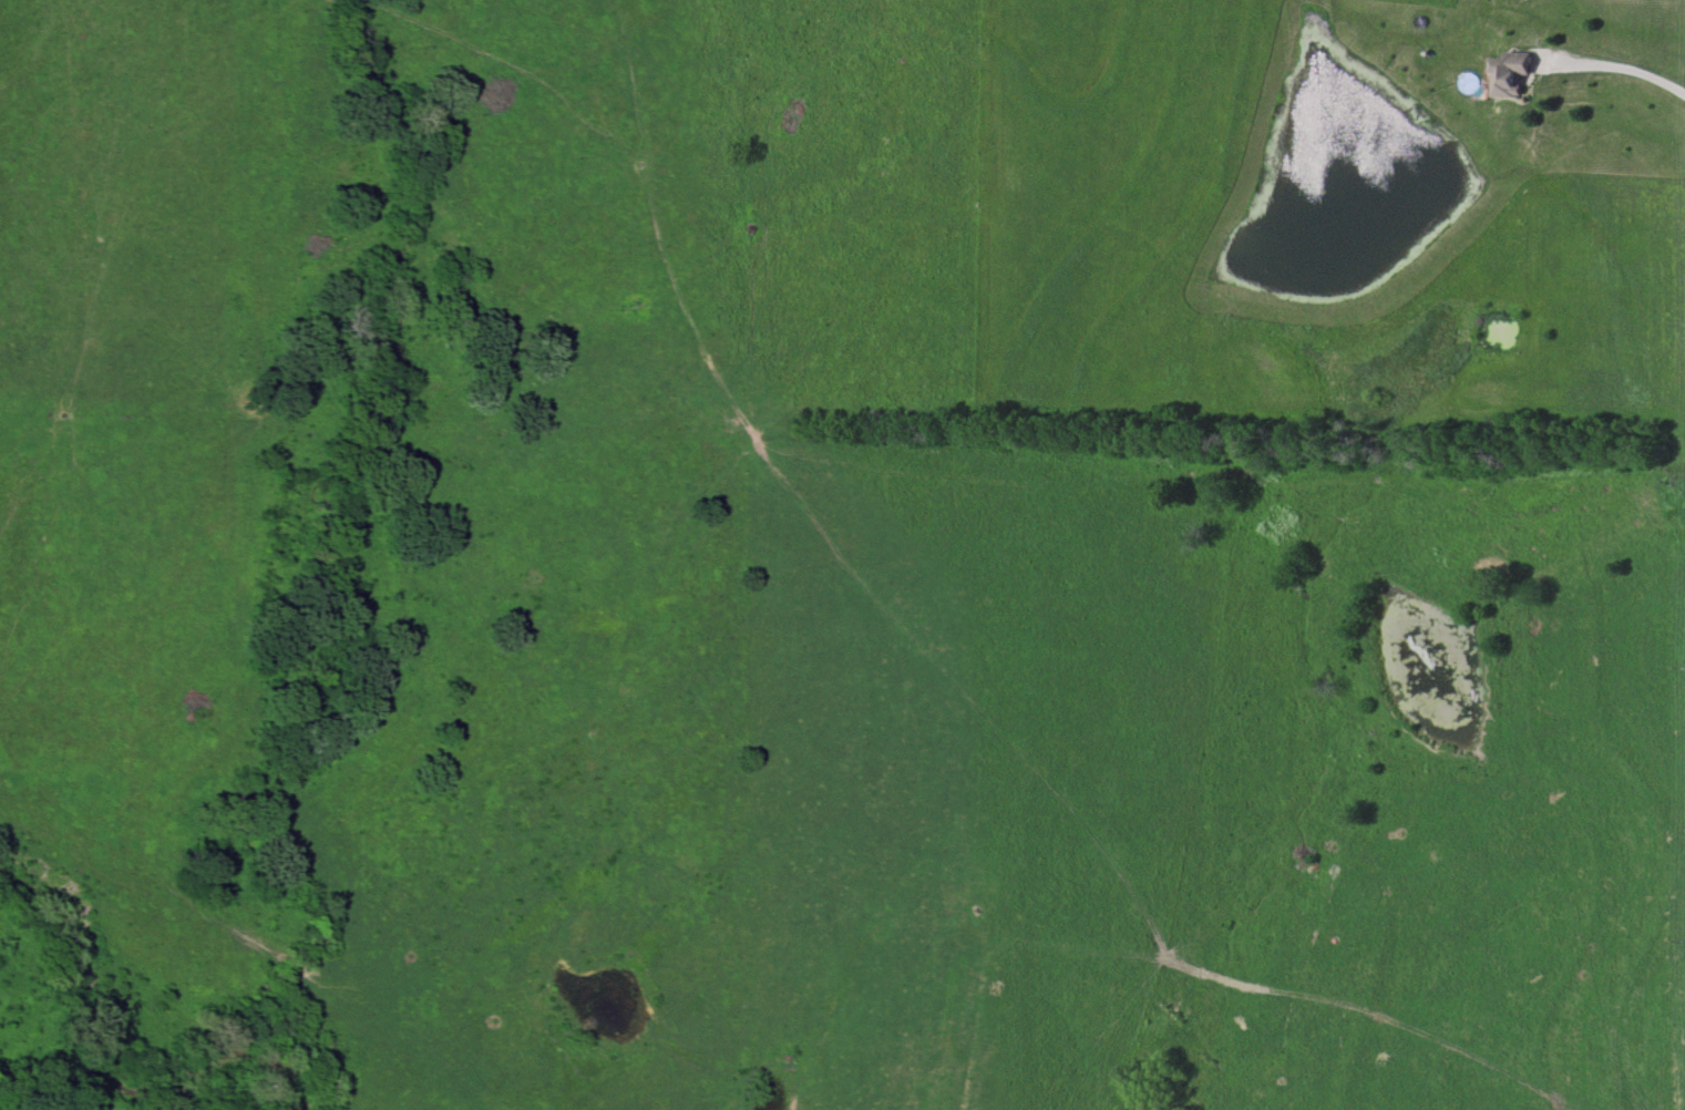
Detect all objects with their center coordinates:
road: (1619, 68)
building: (1506, 75)
road: (1499, 440)
building: (1669, 485)
river: (97, 1067)

